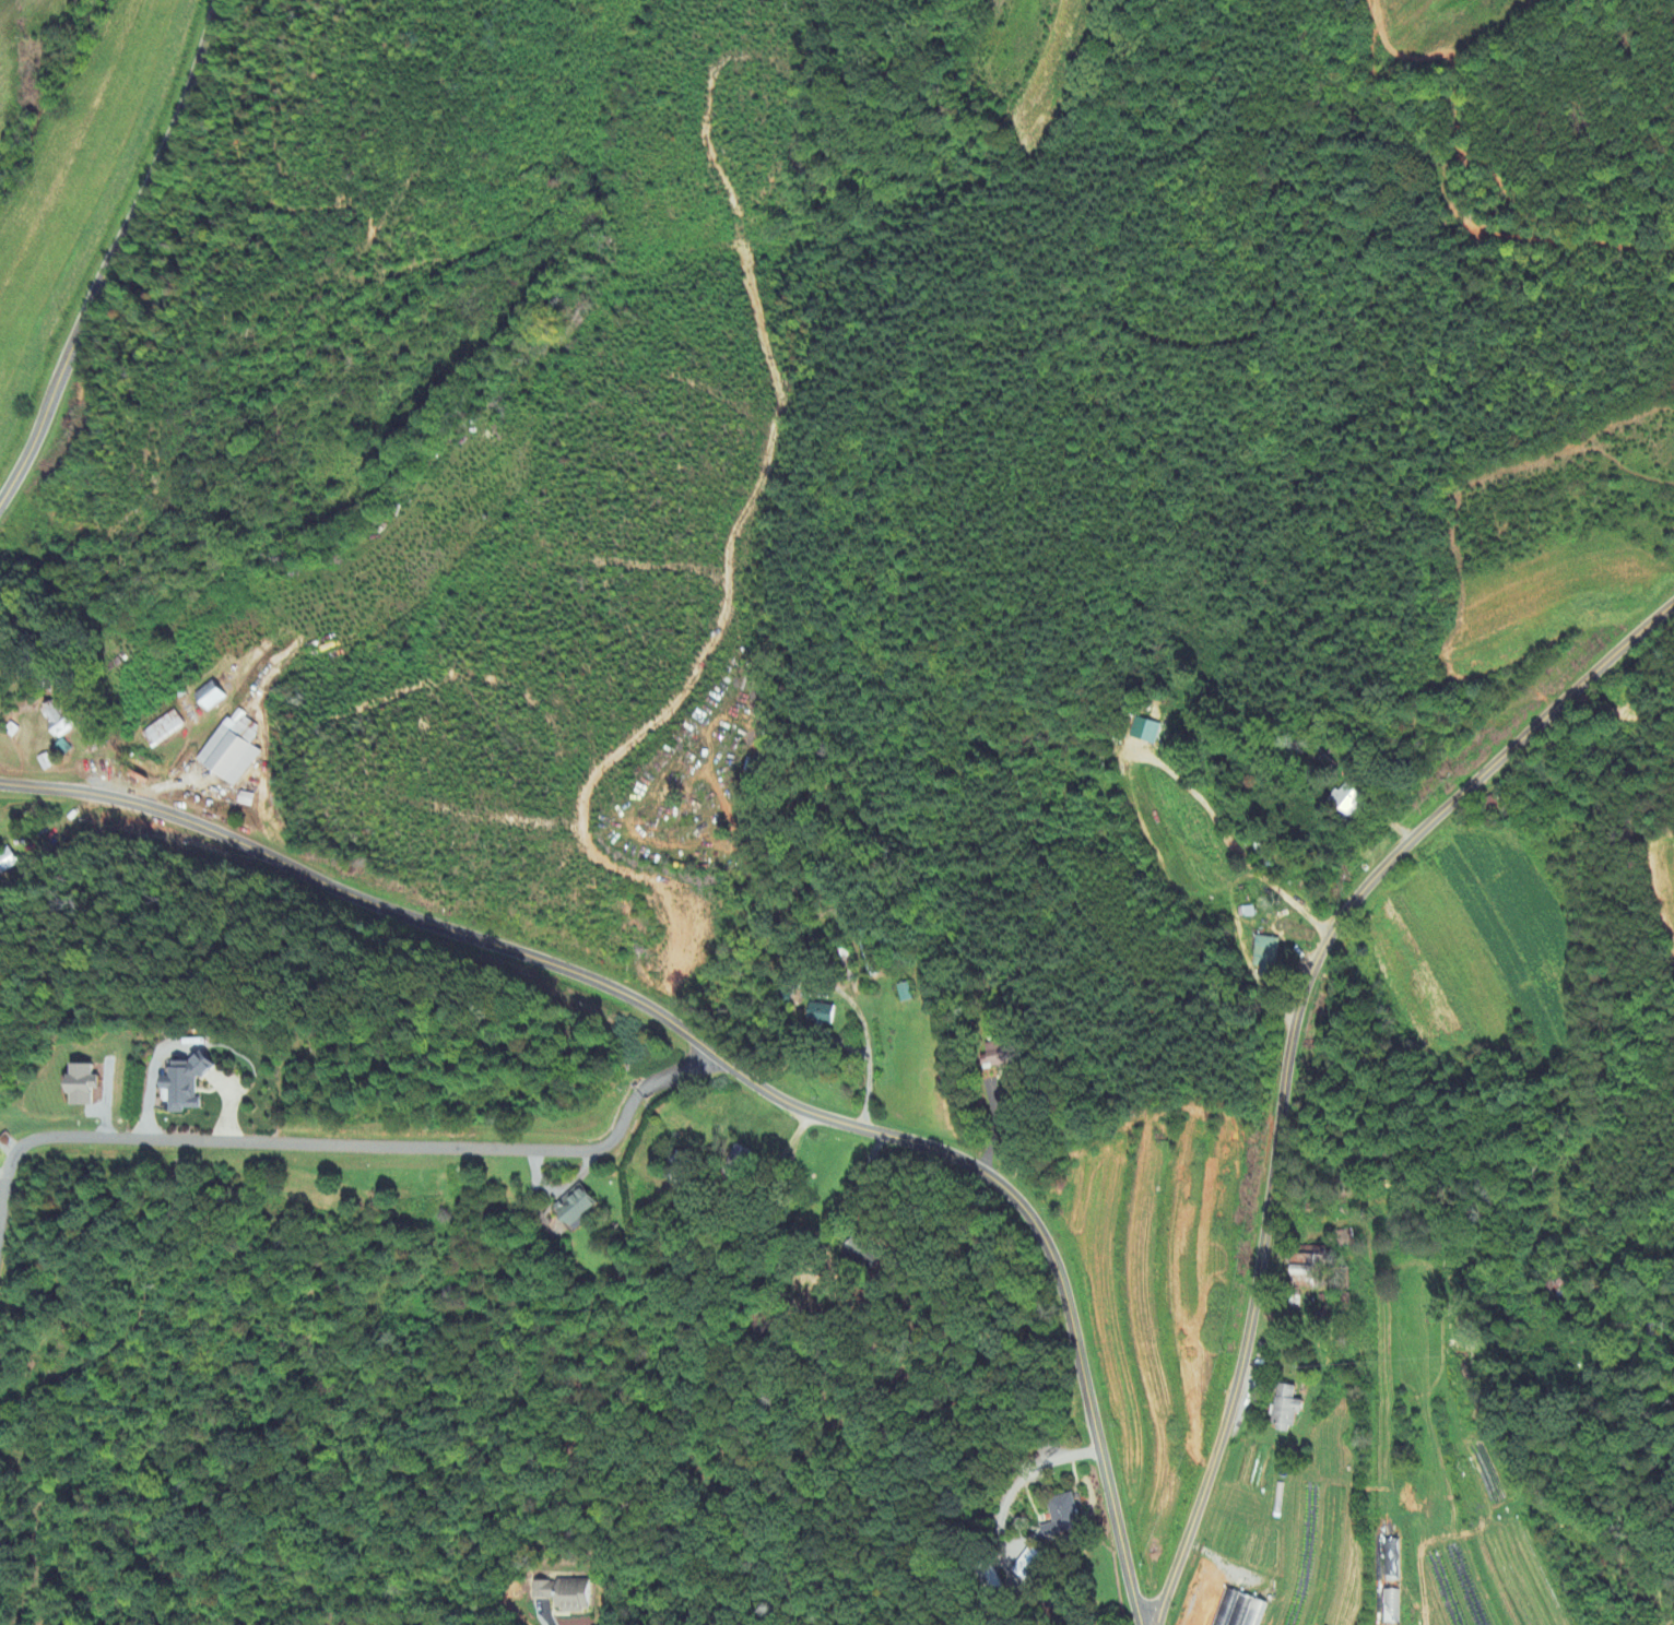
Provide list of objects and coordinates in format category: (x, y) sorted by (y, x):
road: (108, 249)
building: (211, 697)
building: (60, 720)
building: (162, 731)
building: (1145, 732)
building: (232, 750)
road: (166, 783)
building: (7, 862)
building: (1264, 953)
road: (1567, 956)
building: (905, 994)
building: (824, 1016)
road: (1286, 1044)
building: (995, 1055)
road: (722, 1060)
building: (191, 1084)
building: (85, 1086)
road: (353, 1143)
building: (679, 1169)
road: (858, 1181)
building: (579, 1208)
building: (865, 1255)
building: (1313, 1281)
building: (1288, 1410)
building: (1064, 1518)
building: (1393, 1562)
building: (1029, 1565)
building: (566, 1596)
road: (1411, 1604)
building: (1390, 1608)
building: (1242, 1611)

